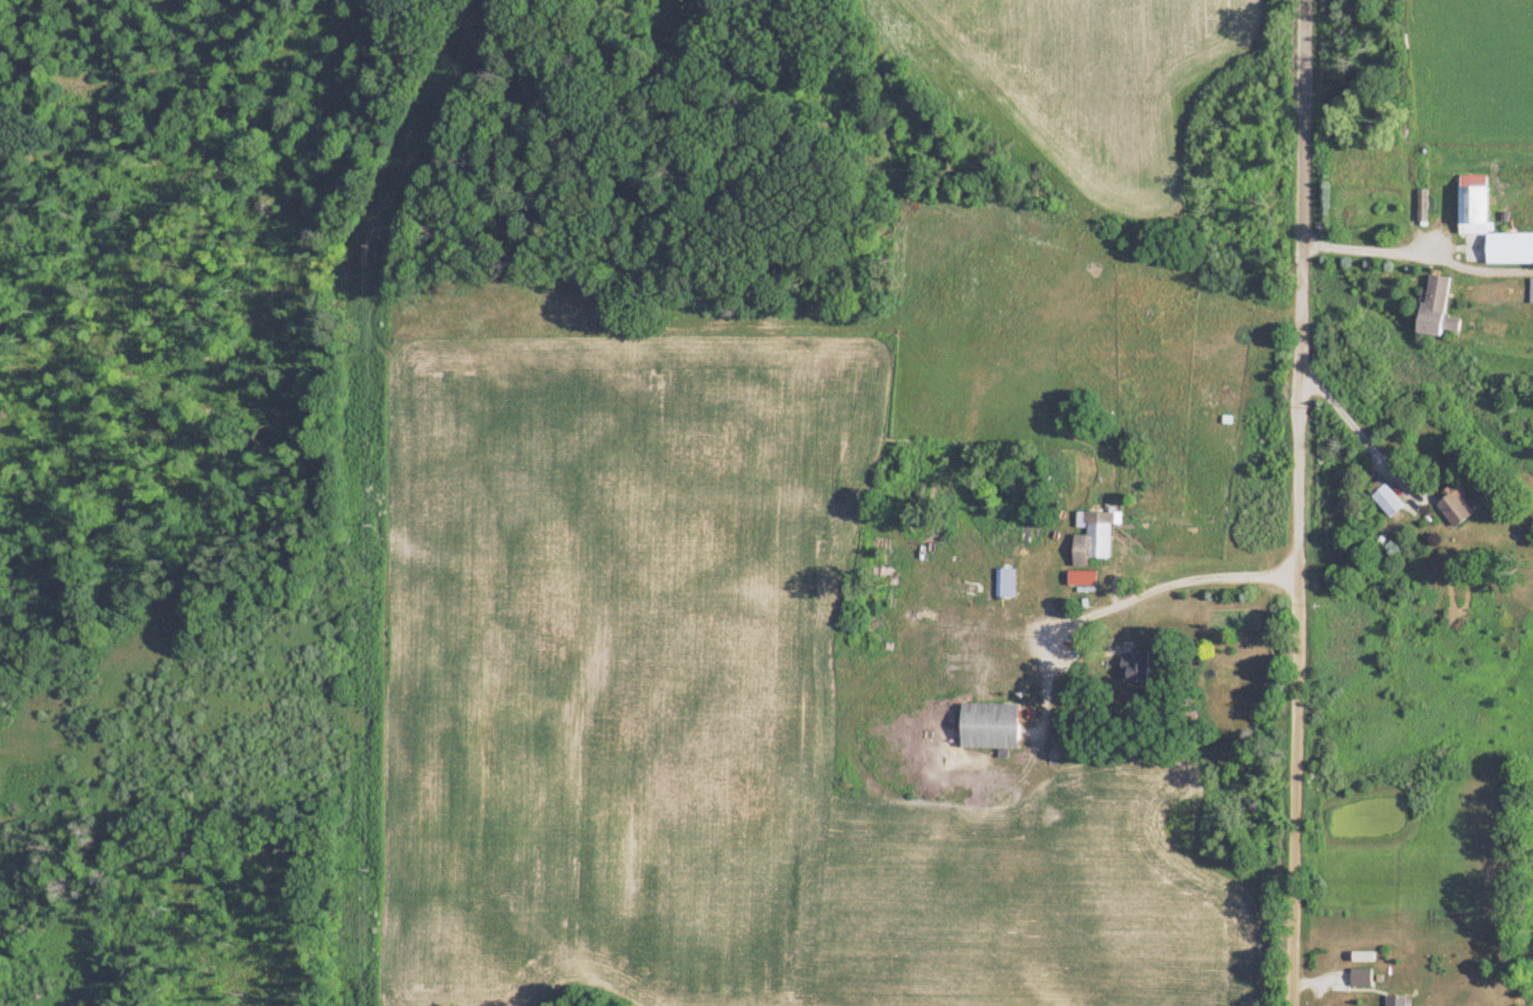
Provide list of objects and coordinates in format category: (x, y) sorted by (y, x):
building: (1470, 205)
road: (1358, 246)
building: (1431, 305)
road: (1354, 422)
building: (1383, 498)
road: (1292, 502)
building: (1453, 506)
building: (1028, 532)
building: (1089, 537)
road: (1127, 597)
building: (987, 727)
building: (1359, 958)
building: (1348, 979)
building: (1393, 1001)

